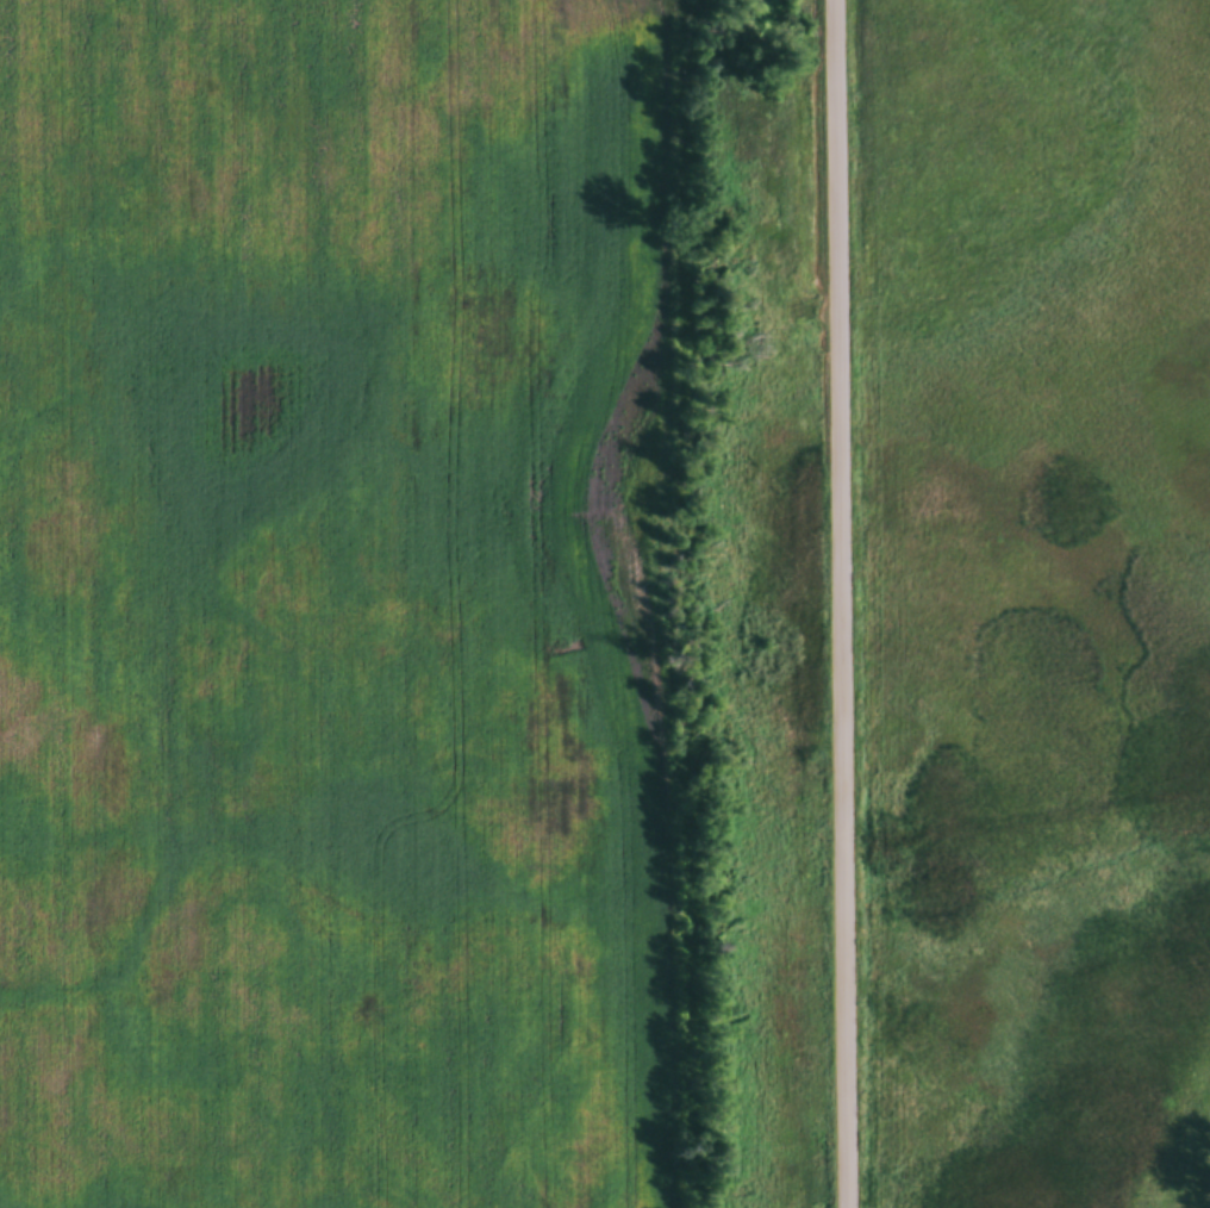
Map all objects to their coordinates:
road: (841, 604)

